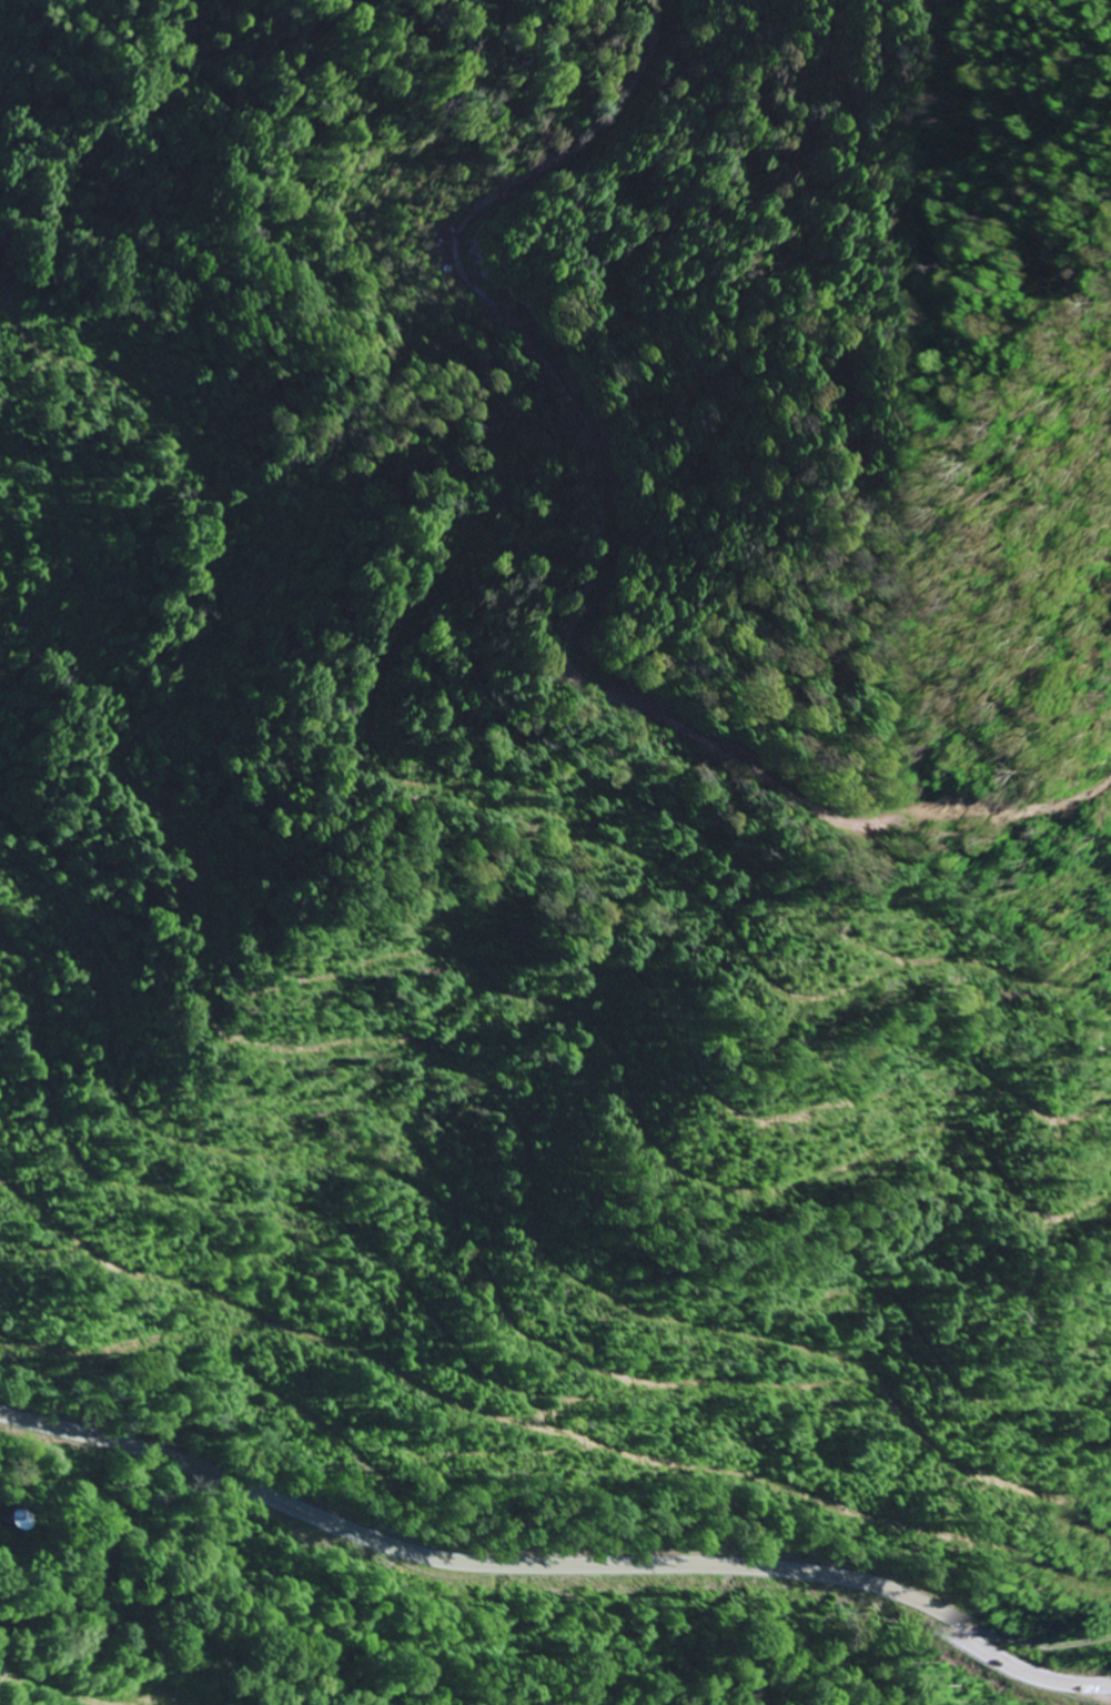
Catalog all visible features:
building: (9, 1517)
road: (555, 1564)

